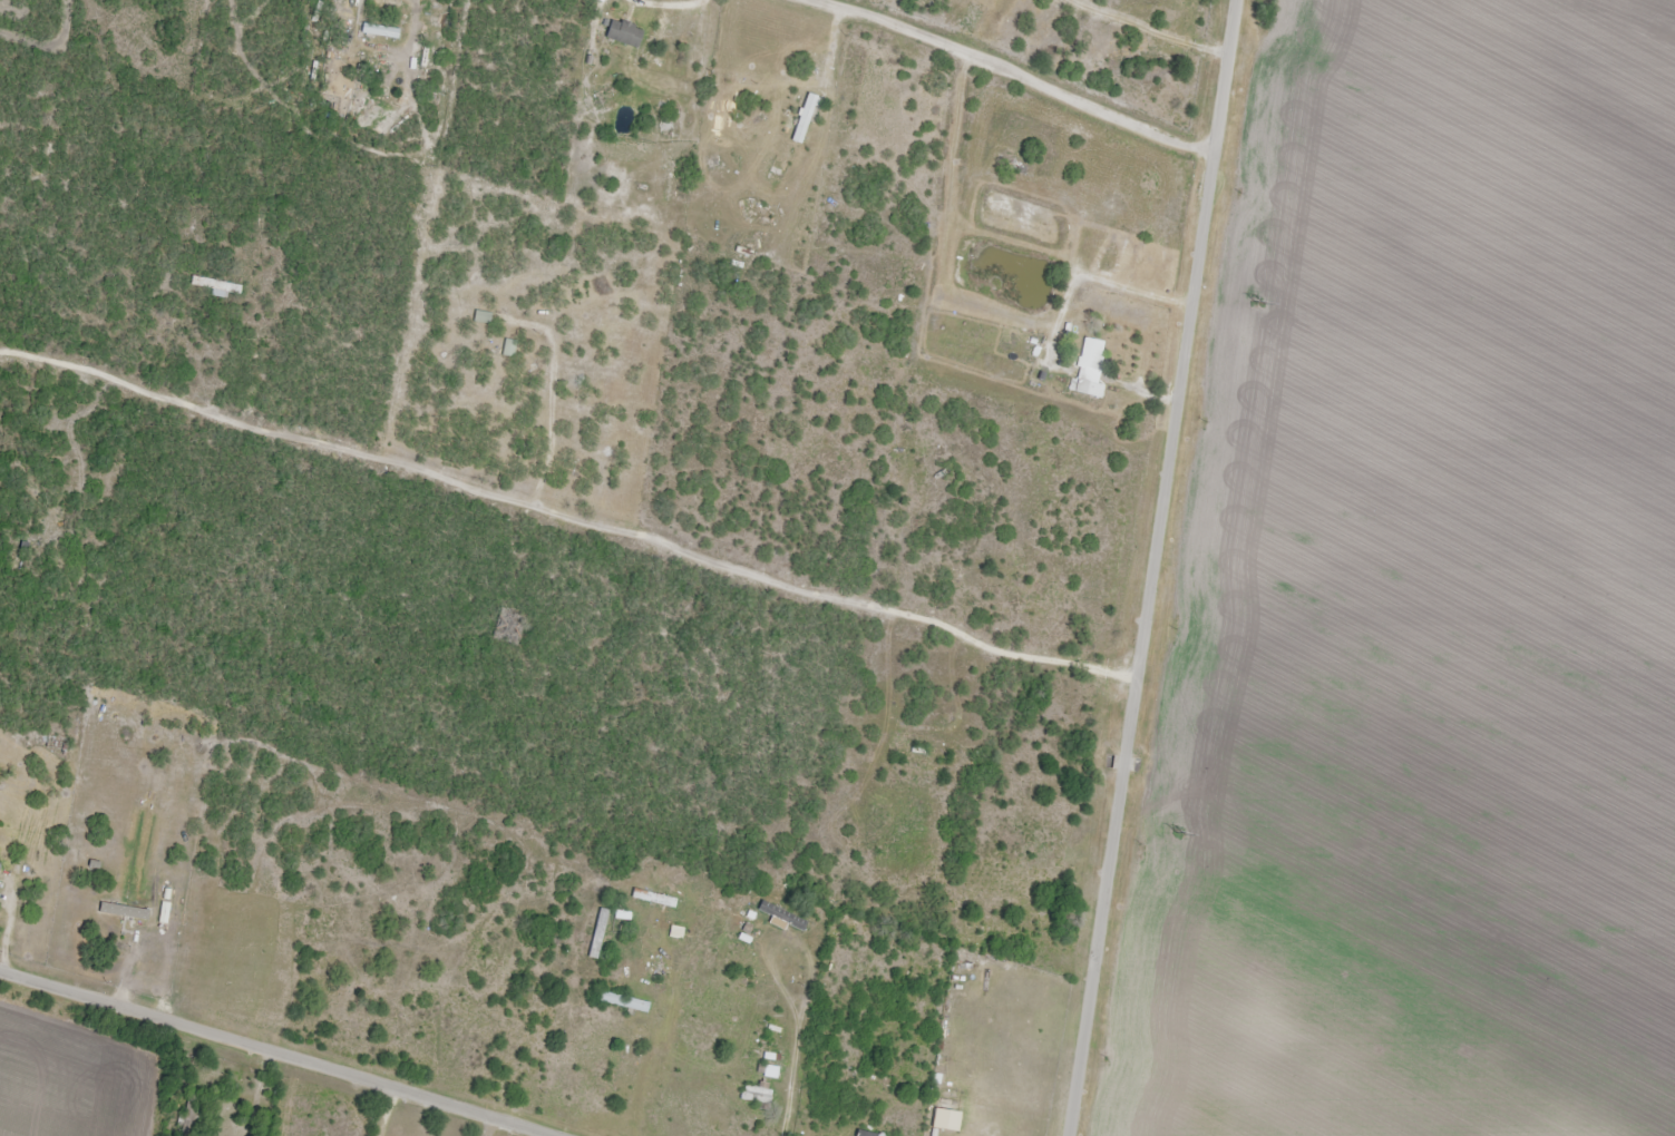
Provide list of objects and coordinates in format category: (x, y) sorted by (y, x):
building: (624, 33)
building: (658, 38)
road: (1004, 67)
power tower: (1256, 303)
road: (926, 329)
building: (1092, 355)
road: (565, 520)
road: (1149, 567)
power tower: (1178, 834)
road: (264, 1056)
building: (757, 1096)

